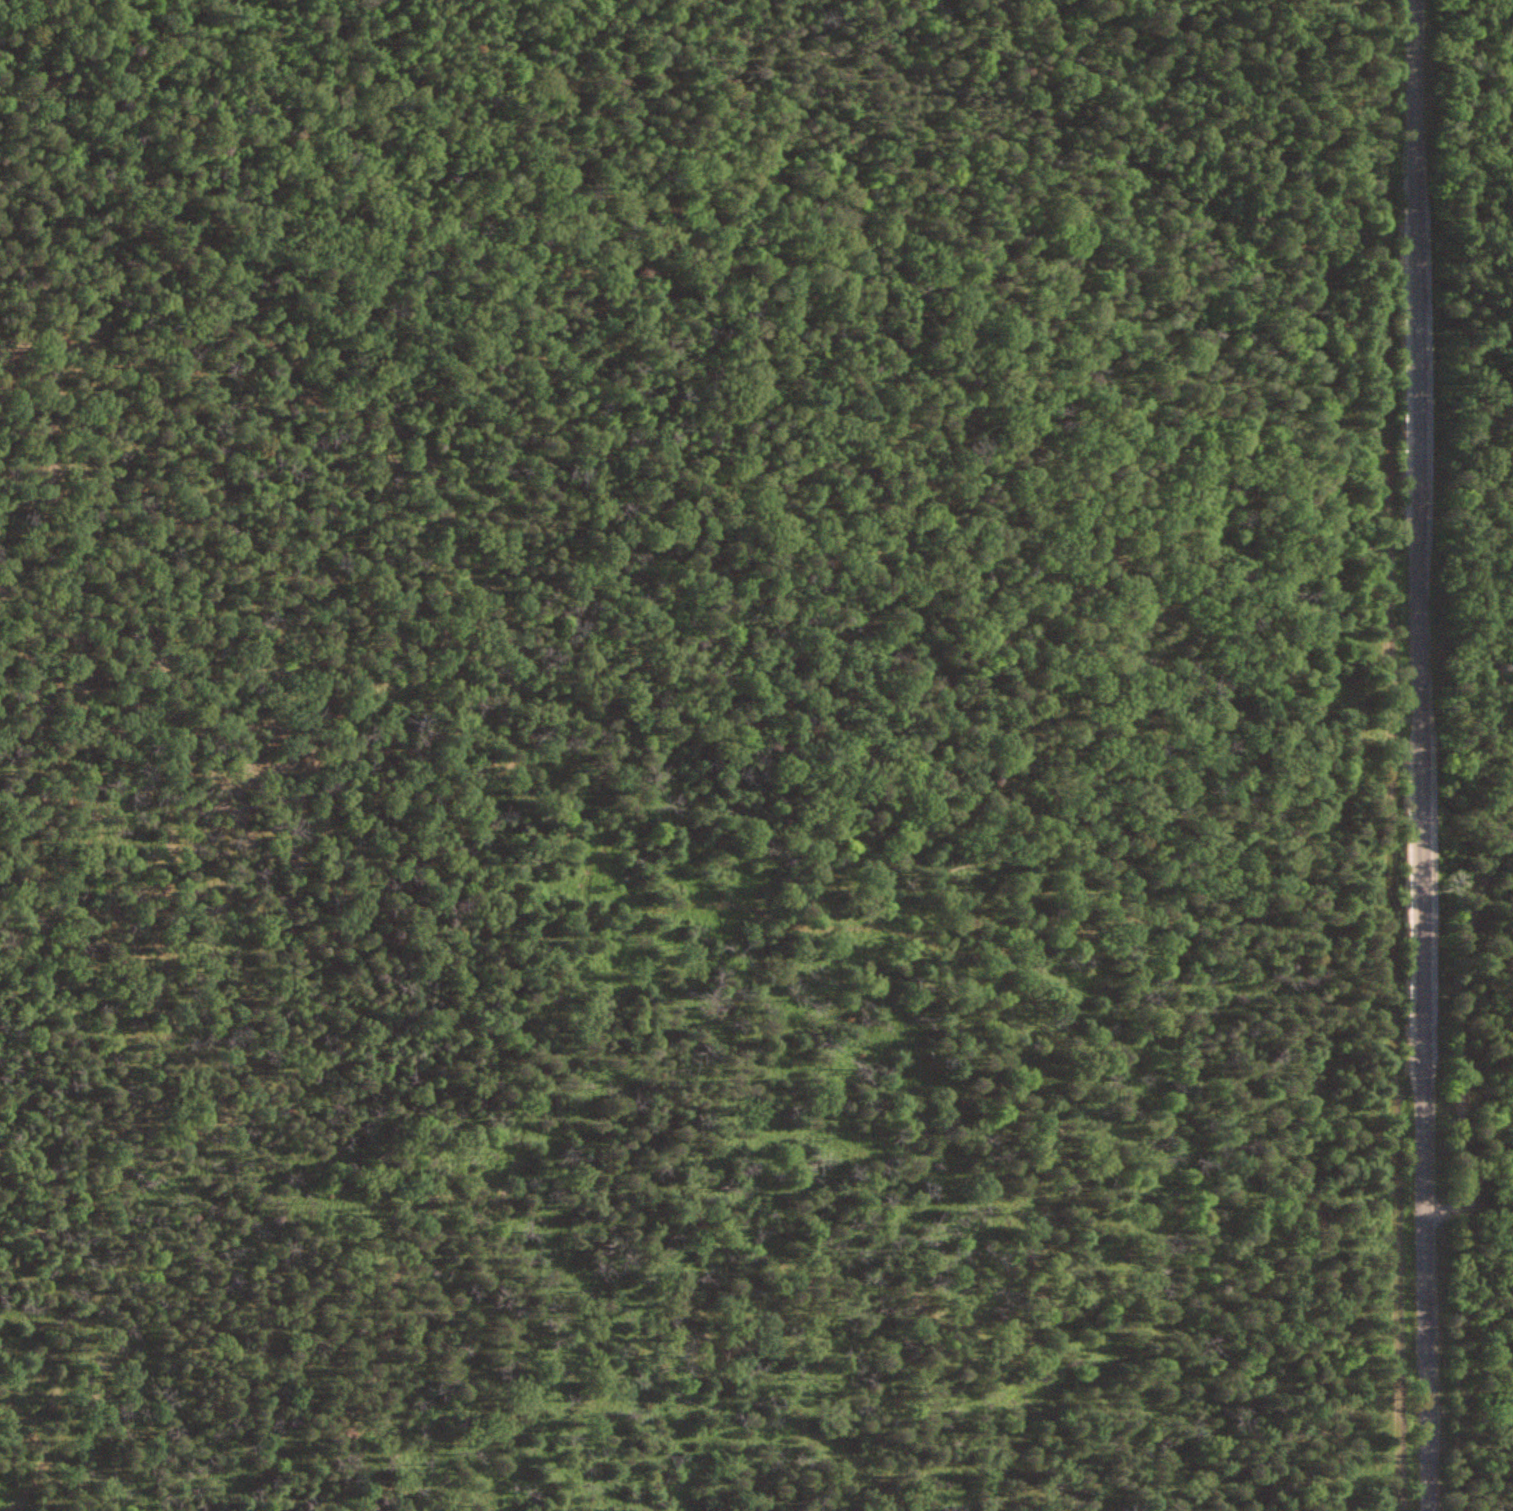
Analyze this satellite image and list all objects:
road: (1423, 755)
road: (1317, 759)
road: (1478, 977)

